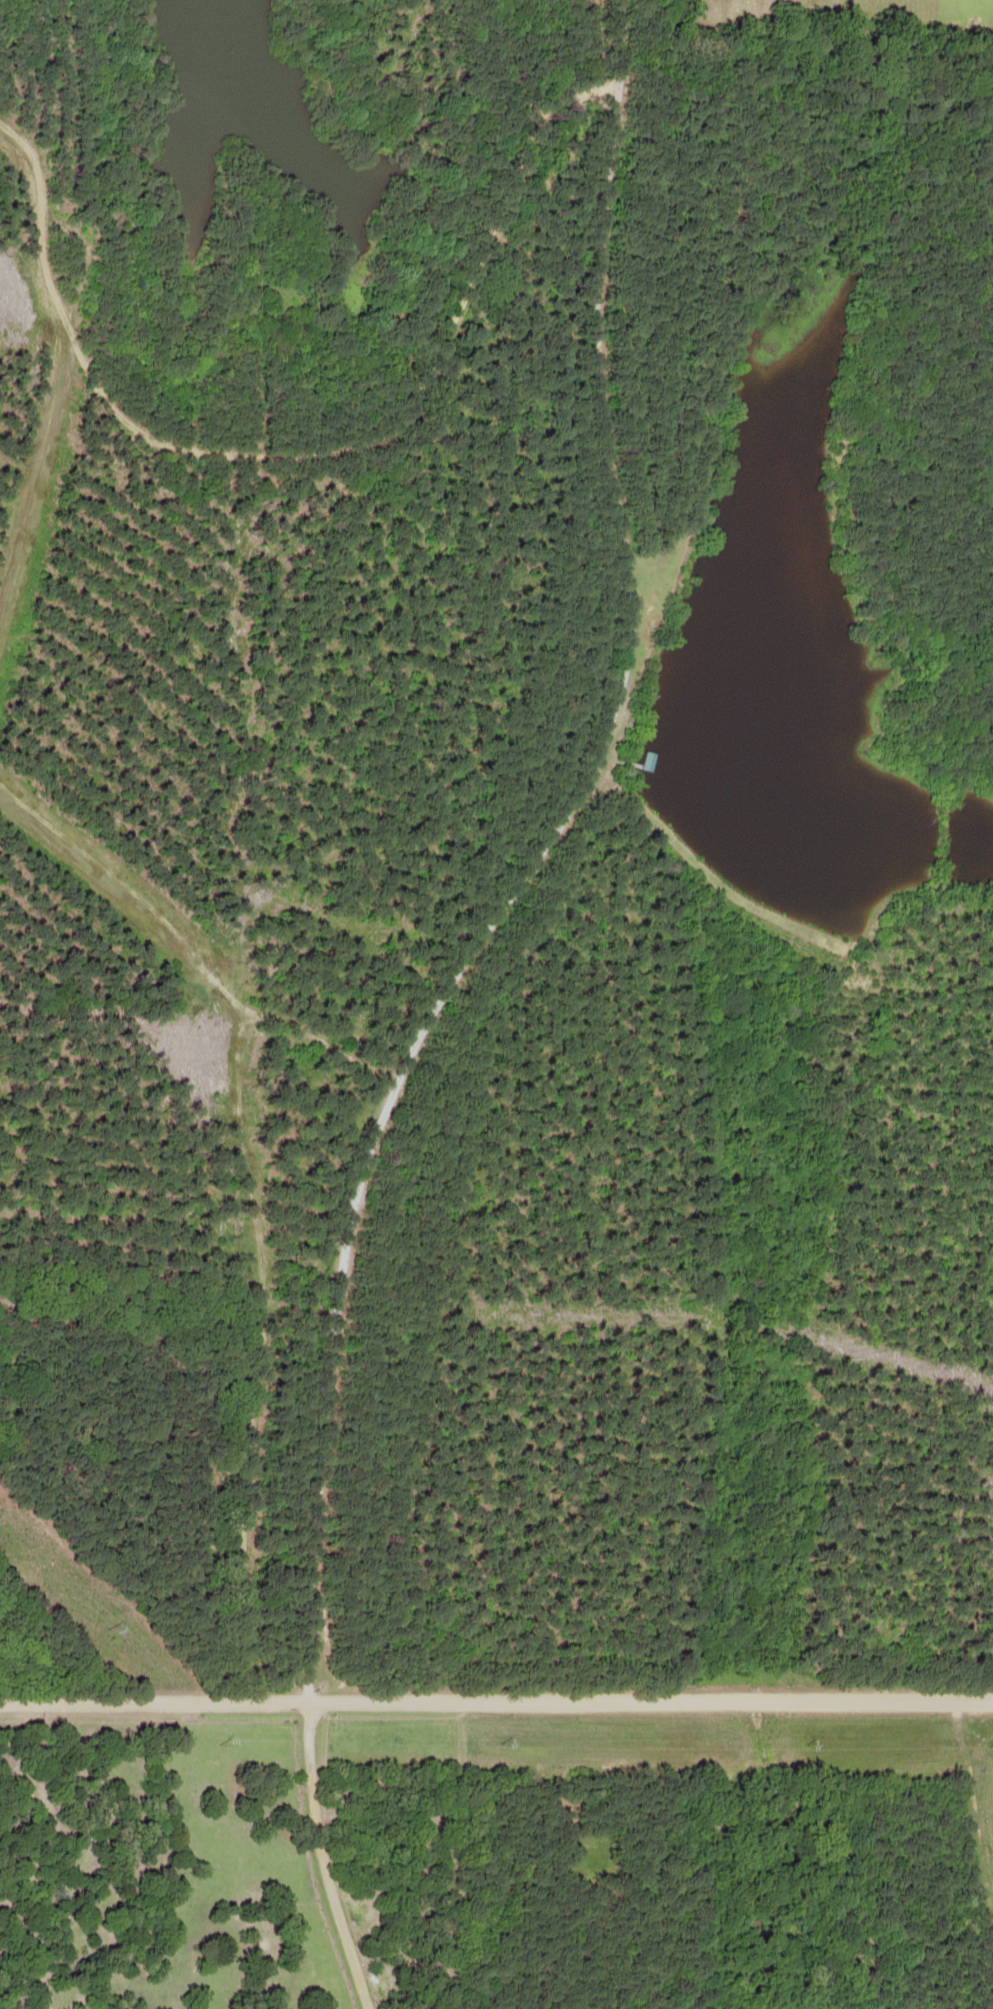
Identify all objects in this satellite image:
building: (649, 762)
road: (446, 993)
road: (496, 1700)

